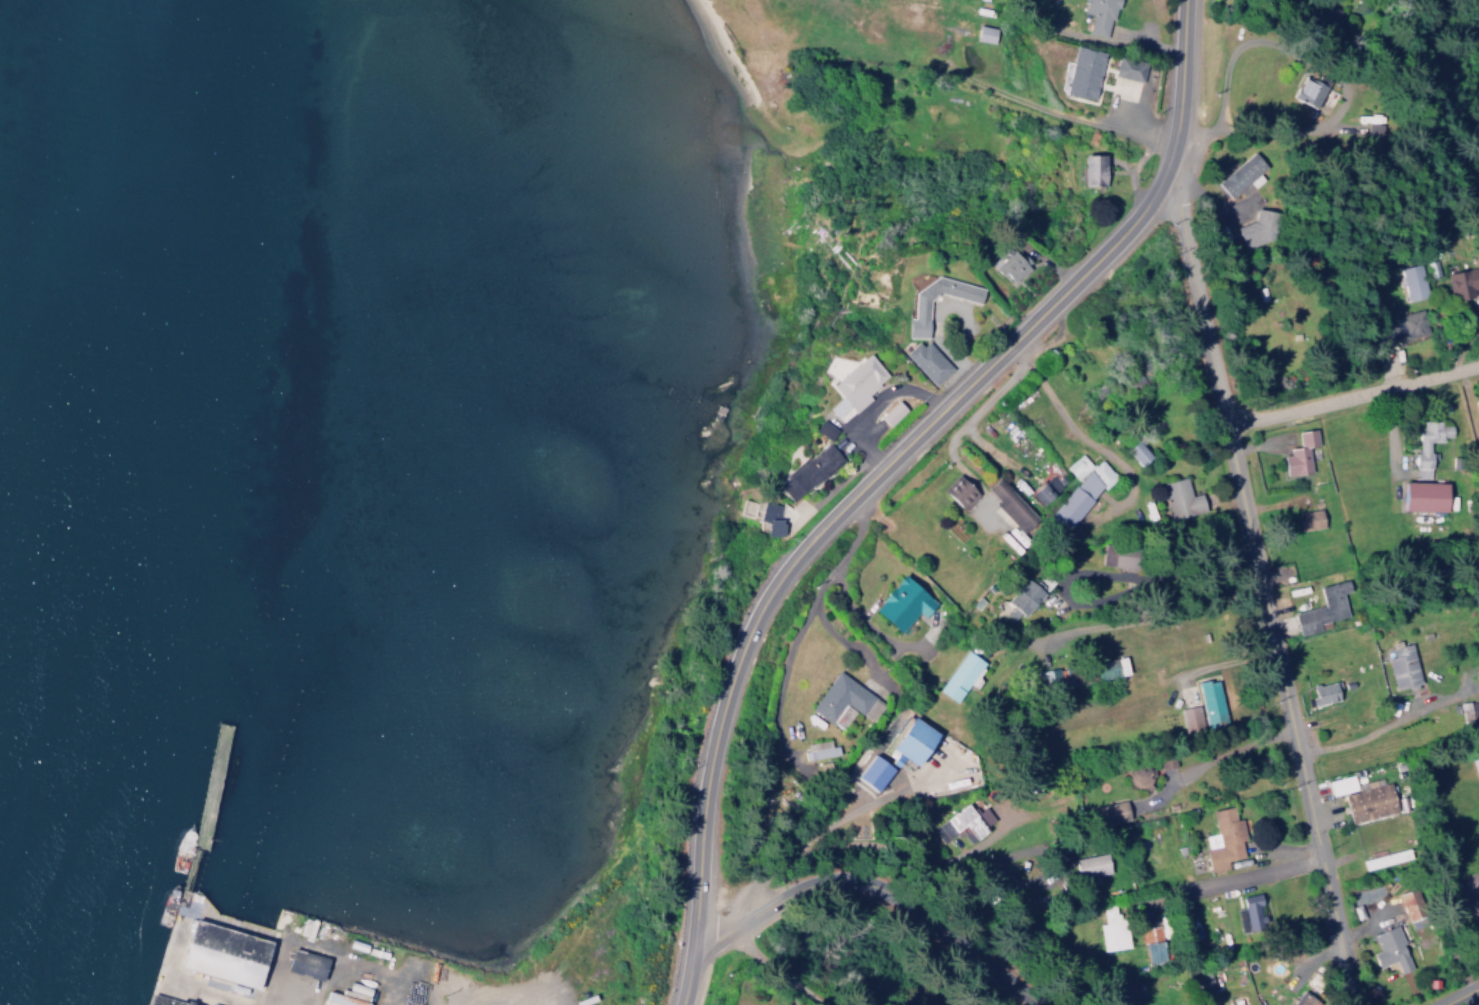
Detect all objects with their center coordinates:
building: (1100, 16)
building: (984, 33)
building: (1129, 68)
road: (1339, 70)
building: (1083, 72)
building: (1308, 92)
building: (1094, 169)
building: (1238, 175)
building: (1256, 229)
building: (1011, 264)
building: (1413, 282)
building: (916, 318)
building: (1406, 324)
building: (926, 361)
building: (856, 385)
road: (1352, 389)
building: (1477, 408)
building: (892, 413)
road: (961, 421)
road: (1078, 428)
building: (824, 429)
building: (1428, 443)
road: (899, 446)
building: (1139, 453)
building: (1300, 454)
building: (807, 470)
building: (1048, 487)
building: (960, 491)
building: (1080, 491)
building: (1426, 495)
building: (1003, 496)
building: (770, 519)
building: (1309, 520)
road: (836, 565)
road: (1263, 590)
building: (1024, 599)
building: (903, 603)
building: (1322, 608)
road: (826, 621)
building: (1402, 666)
building: (1111, 668)
building: (960, 675)
building: (1051, 679)
building: (844, 693)
building: (1323, 694)
building: (1211, 703)
building: (1189, 719)
road: (1362, 734)
building: (914, 744)
building: (817, 750)
building: (873, 772)
pier: (211, 784)
building: (1362, 796)
building: (1110, 813)
building: (967, 821)
road: (824, 822)
building: (1223, 840)
road: (933, 855)
building: (1091, 865)
pier: (188, 867)
road: (1248, 873)
road: (883, 885)
building: (1477, 901)
building: (1413, 908)
building: (1249, 913)
building: (1111, 929)
building: (1390, 950)
building: (226, 952)
building: (1154, 952)
pier: (213, 955)
building: (307, 962)
road: (775, 969)
road: (689, 972)
road: (1455, 994)
building: (343, 999)
building: (1304, 999)
building: (165, 1001)

